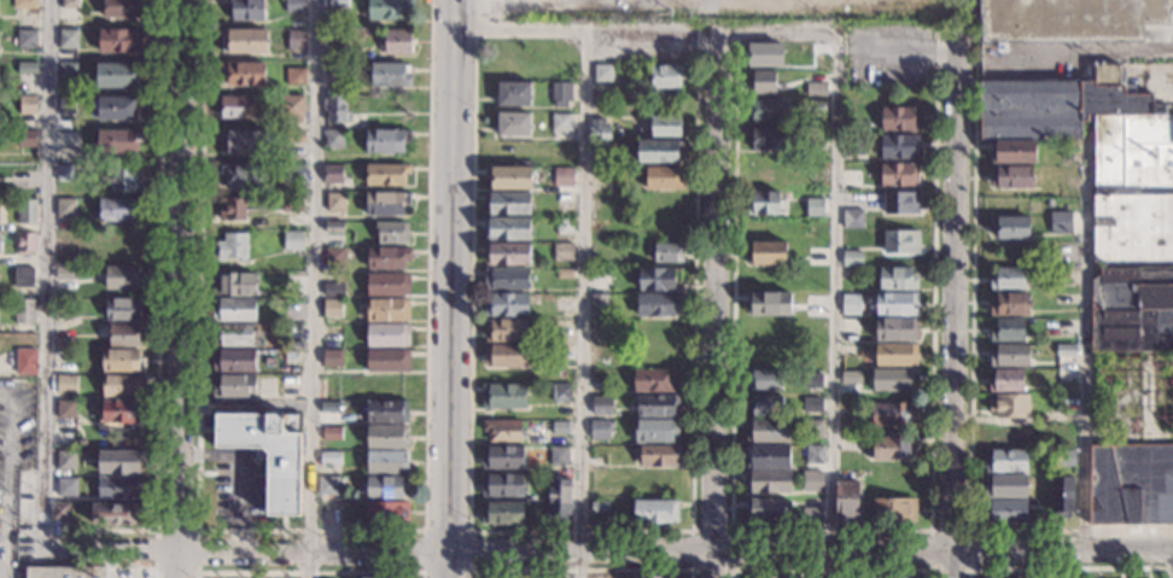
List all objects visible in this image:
building: (24, 4)
building: (69, 4)
building: (338, 5)
building: (296, 6)
building: (122, 7)
building: (247, 10)
building: (391, 10)
building: (1069, 19)
road: (711, 29)
building: (27, 39)
building: (68, 39)
building: (338, 39)
building: (118, 40)
building: (296, 40)
building: (245, 41)
building: (396, 41)
road: (897, 49)
building: (765, 56)
parking lot: (887, 57)
building: (337, 70)
building: (68, 71)
building: (28, 72)
building: (244, 74)
building: (602, 74)
building: (117, 75)
building: (390, 75)
building: (296, 76)
building: (667, 76)
building: (761, 82)
building: (513, 94)
building: (561, 94)
building: (28, 105)
building: (66, 105)
building: (234, 106)
building: (291, 107)
building: (817, 107)
building: (118, 109)
building: (335, 109)
building: (768, 109)
building: (900, 119)
building: (561, 122)
building: (513, 124)
building: (666, 125)
building: (599, 129)
building: (294, 136)
building: (27, 139)
building: (334, 139)
building: (768, 139)
building: (118, 141)
building: (387, 141)
building: (243, 142)
building: (853, 145)
building: (899, 146)
building: (660, 151)
building: (1012, 152)
building: (1099, 152)
building: (601, 154)
building: (65, 174)
building: (294, 174)
building: (333, 174)
building: (386, 174)
building: (899, 175)
building: (243, 176)
building: (564, 176)
building: (510, 177)
building: (664, 177)
building: (1012, 177)
building: (126, 179)
building: (1049, 202)
building: (335, 203)
building: (900, 203)
building: (292, 204)
building: (386, 204)
building: (508, 204)
building: (764, 204)
building: (65, 208)
building: (815, 208)
building: (118, 209)
building: (232, 210)
building: (27, 211)
building: (853, 220)
building: (1060, 221)
building: (565, 226)
building: (334, 227)
building: (1009, 227)
building: (507, 228)
building: (392, 233)
building: (100, 238)
road: (582, 238)
building: (293, 240)
building: (900, 241)
building: (25, 244)
building: (72, 246)
building: (232, 246)
building: (562, 252)
building: (665, 252)
building: (768, 253)
building: (507, 255)
building: (338, 256)
building: (386, 258)
building: (852, 258)
building: (65, 272)
road: (43, 274)
road: (180, 274)
building: (565, 274)
road: (311, 275)
building: (24, 278)
building: (126, 278)
building: (507, 279)
building: (658, 279)
building: (898, 279)
building: (1008, 279)
building: (235, 285)
building: (387, 285)
road: (448, 288)
road: (712, 288)
building: (333, 290)
road: (834, 290)
building: (1063, 299)
building: (600, 304)
building: (658, 304)
building: (768, 304)
building: (851, 304)
building: (897, 304)
building: (1009, 304)
building: (506, 305)
building: (124, 309)
building: (332, 309)
road: (953, 309)
building: (1132, 309)
building: (235, 310)
building: (387, 310)
building: (24, 311)
building: (58, 319)
road: (158, 321)
building: (601, 328)
building: (658, 329)
building: (895, 329)
building: (506, 331)
building: (1008, 331)
building: (126, 334)
building: (232, 334)
building: (387, 335)
building: (63, 343)
building: (1064, 351)
road: (1084, 352)
building: (895, 355)
building: (1009, 355)
building: (504, 356)
building: (332, 358)
building: (387, 360)
building: (122, 361)
building: (234, 361)
building: (25, 362)
building: (851, 376)
building: (1064, 378)
building: (655, 380)
building: (893, 380)
building: (811, 381)
building: (1006, 381)
building: (66, 384)
building: (766, 384)
building: (123, 386)
building: (234, 386)
road: (970, 386)
building: (560, 393)
building: (504, 397)
building: (1060, 399)
building: (658, 404)
building: (811, 404)
building: (602, 405)
building: (329, 407)
building: (766, 407)
building: (1009, 407)
building: (65, 409)
building: (387, 411)
building: (121, 413)
building: (894, 414)
building: (560, 427)
building: (600, 428)
building: (813, 428)
building: (503, 431)
building: (656, 431)
building: (766, 431)
building: (332, 433)
building: (1006, 436)
building: (387, 437)
building: (66, 438)
building: (889, 448)
building: (269, 453)
parking lot: (14, 454)
building: (815, 454)
building: (558, 456)
building: (658, 456)
building: (329, 457)
building: (502, 457)
building: (768, 457)
building: (1066, 457)
building: (66, 461)
building: (1006, 461)
building: (122, 462)
building: (387, 462)
road: (5, 469)
building: (812, 479)
building: (769, 481)
building: (327, 485)
building: (502, 485)
building: (1131, 485)
building: (119, 486)
building: (1005, 486)
building: (66, 487)
building: (385, 487)
building: (1062, 497)
building: (559, 500)
building: (848, 502)
building: (600, 507)
building: (768, 507)
building: (811, 507)
building: (894, 509)
building: (59, 512)
building: (655, 512)
building: (1005, 512)
building: (387, 513)
building: (502, 513)
building: (115, 514)
road: (310, 530)
road: (824, 530)
road: (566, 531)
road: (109, 549)
road: (243, 549)
road: (509, 551)
road: (941, 554)
road: (176, 562)
road: (5, 564)
road: (712, 564)
road: (308, 565)
road: (157, 567)
road: (968, 568)
road: (1066, 568)
road: (580, 570)
road: (729, 570)
road: (830, 570)
road: (424, 571)
building: (59, 572)
parking lot: (128, 572)
road: (154, 572)
road: (309, 572)
building: (888, 576)
building: (384, 577)
building: (653, 577)

